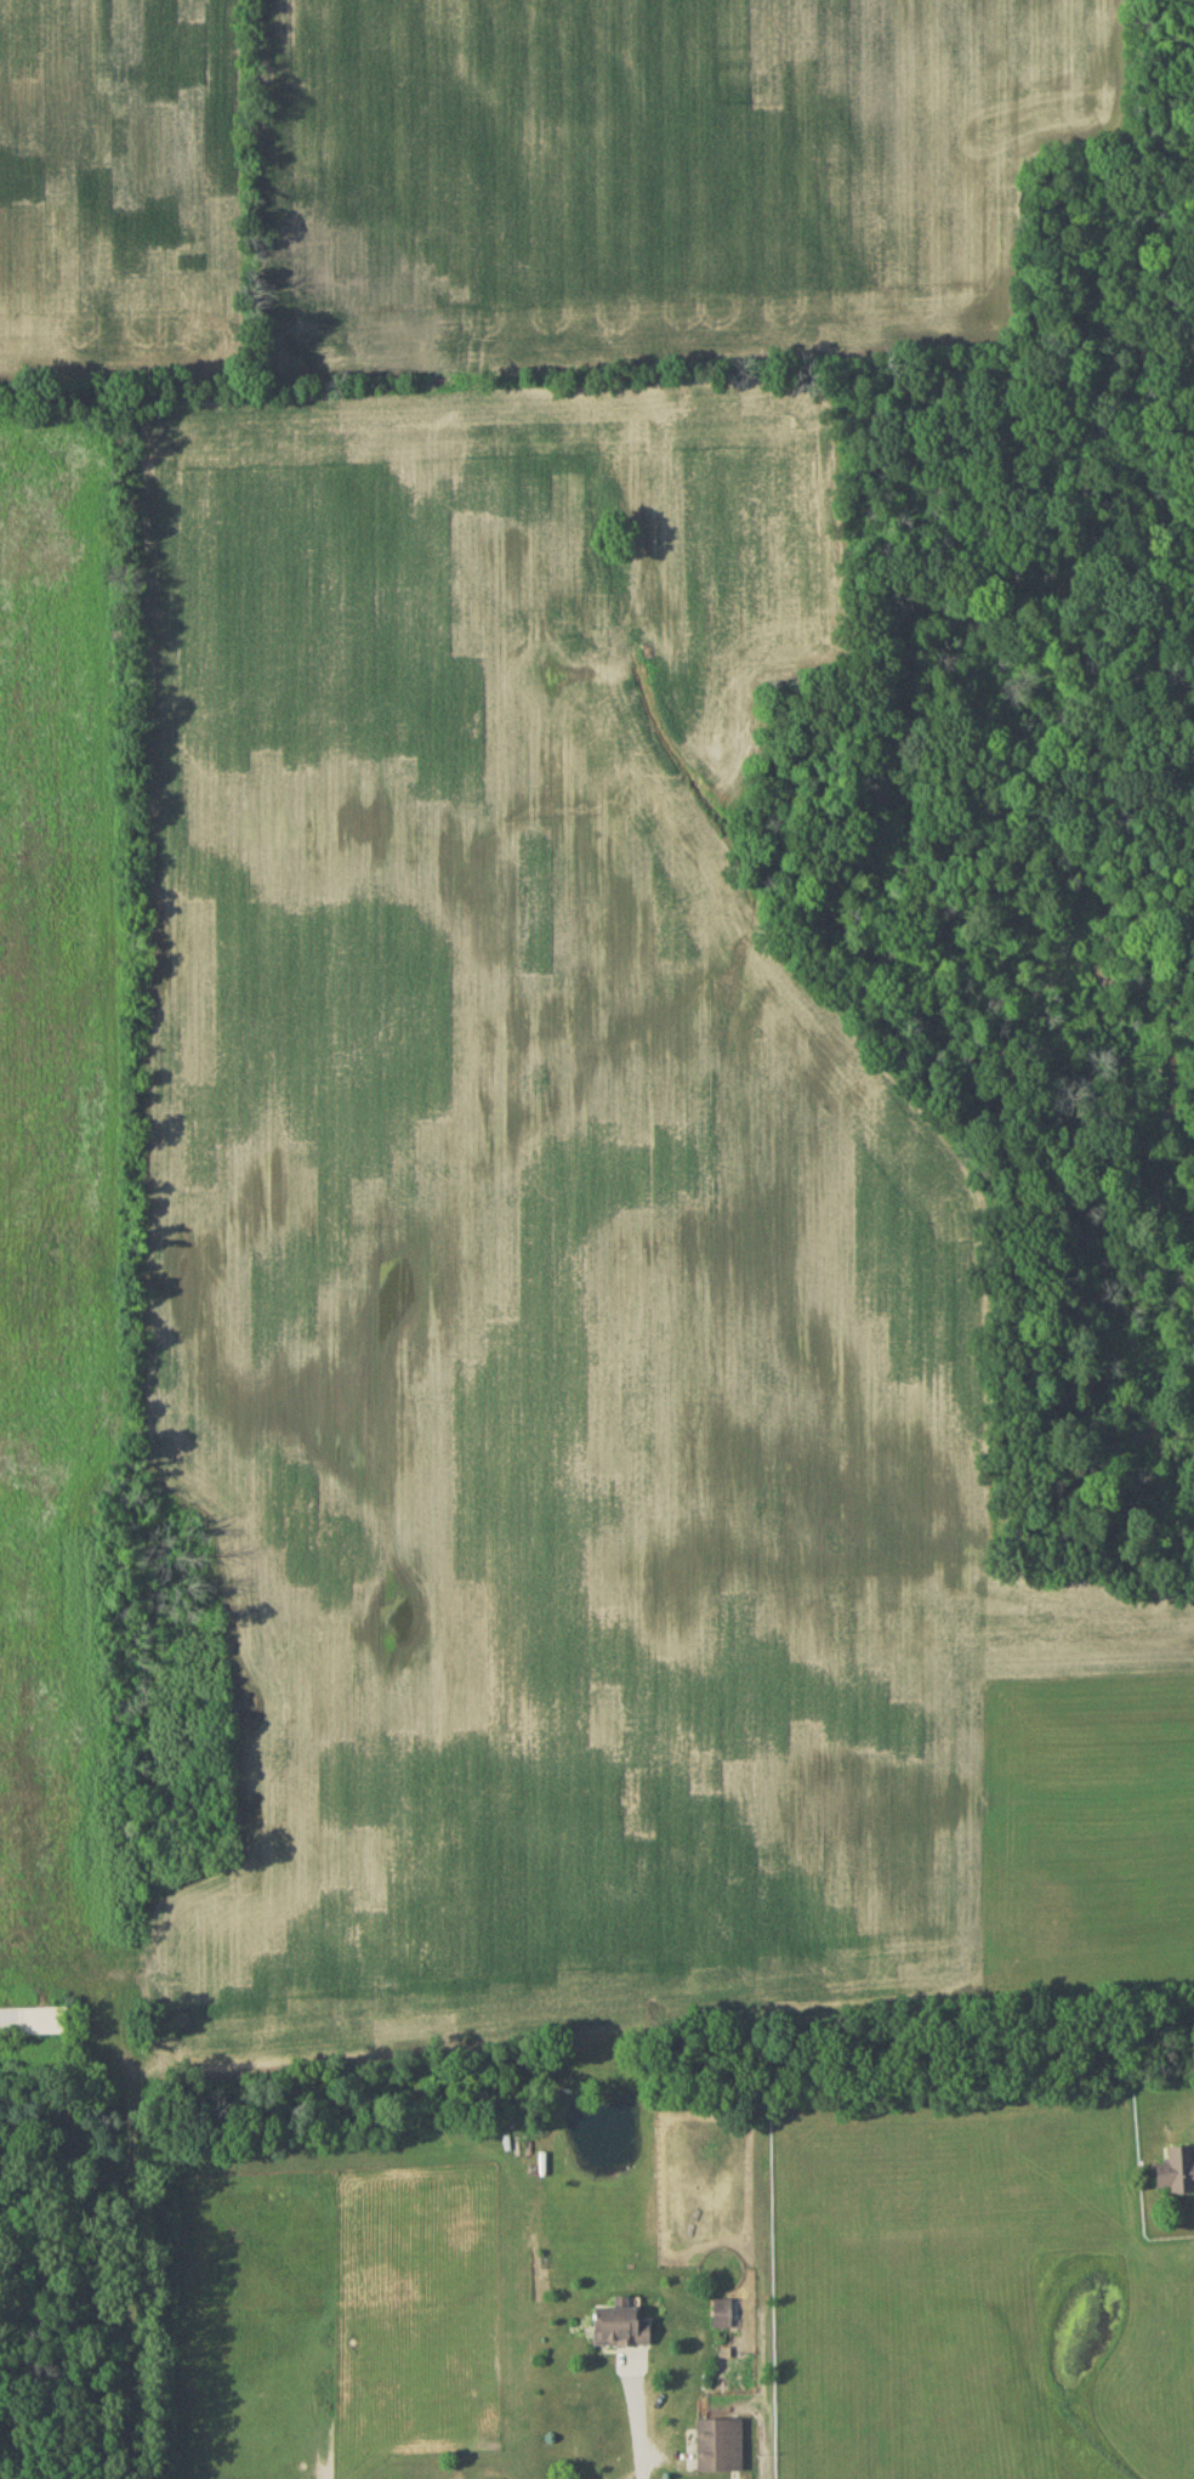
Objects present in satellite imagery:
building: (35, 2027)
building: (1176, 2177)
building: (622, 2333)
road: (635, 2423)
building: (722, 2451)

